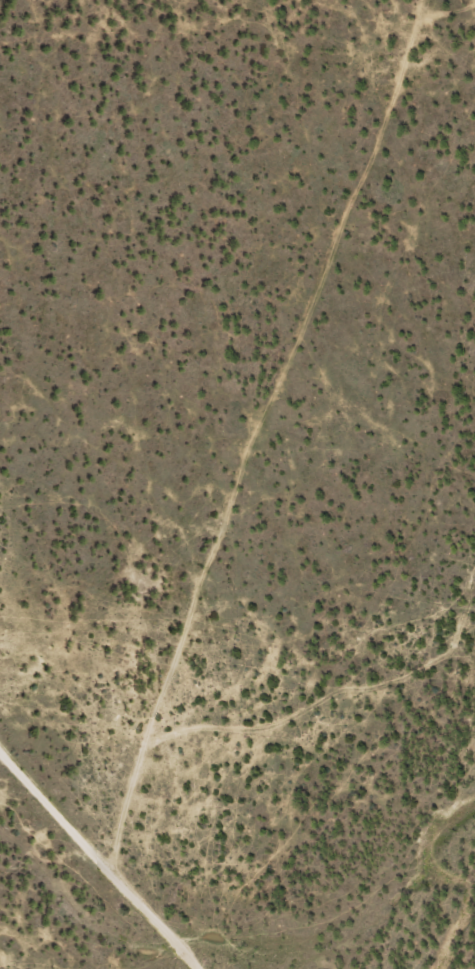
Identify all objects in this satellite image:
road: (236, 618)
road: (76, 884)

